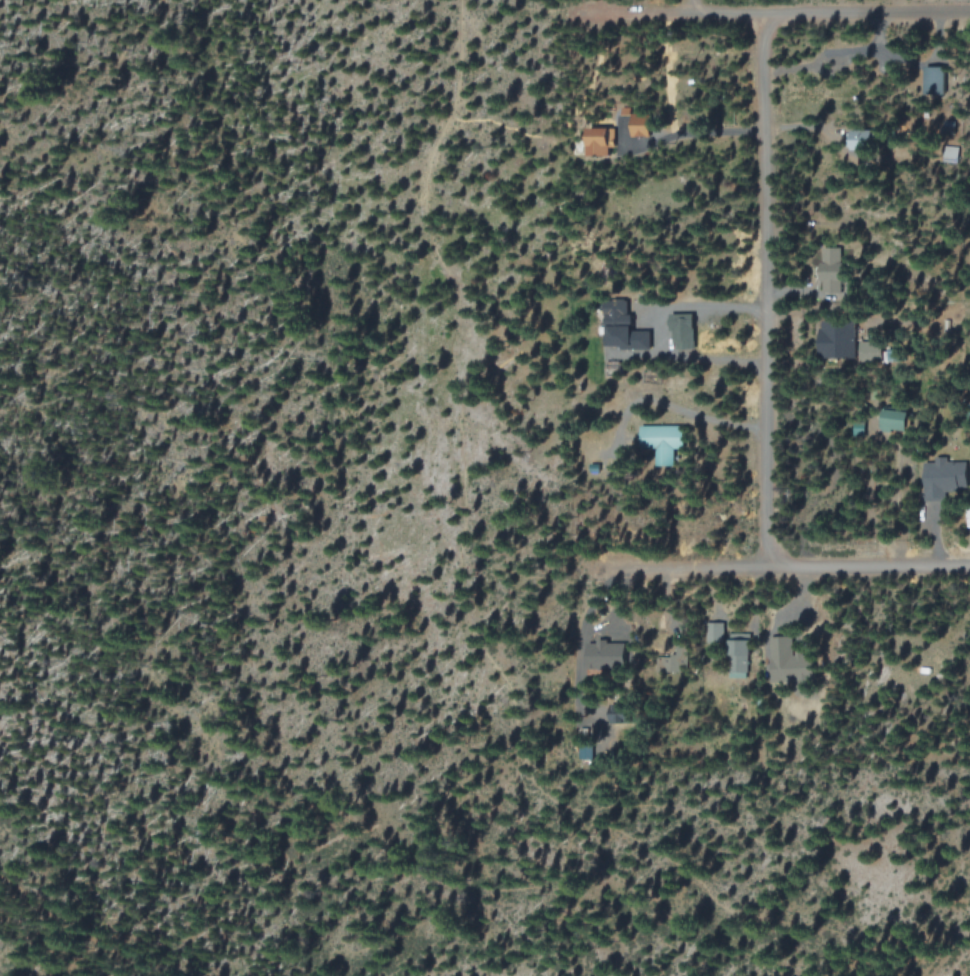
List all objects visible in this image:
road: (691, 8)
road: (773, 15)
road: (122, 46)
building: (934, 79)
road: (231, 93)
building: (639, 130)
building: (600, 140)
building: (831, 269)
road: (766, 291)
building: (617, 322)
building: (683, 333)
building: (836, 339)
building: (870, 352)
building: (895, 419)
building: (662, 441)
building: (933, 486)
road: (783, 566)
building: (604, 654)
building: (738, 656)
road: (76, 927)

